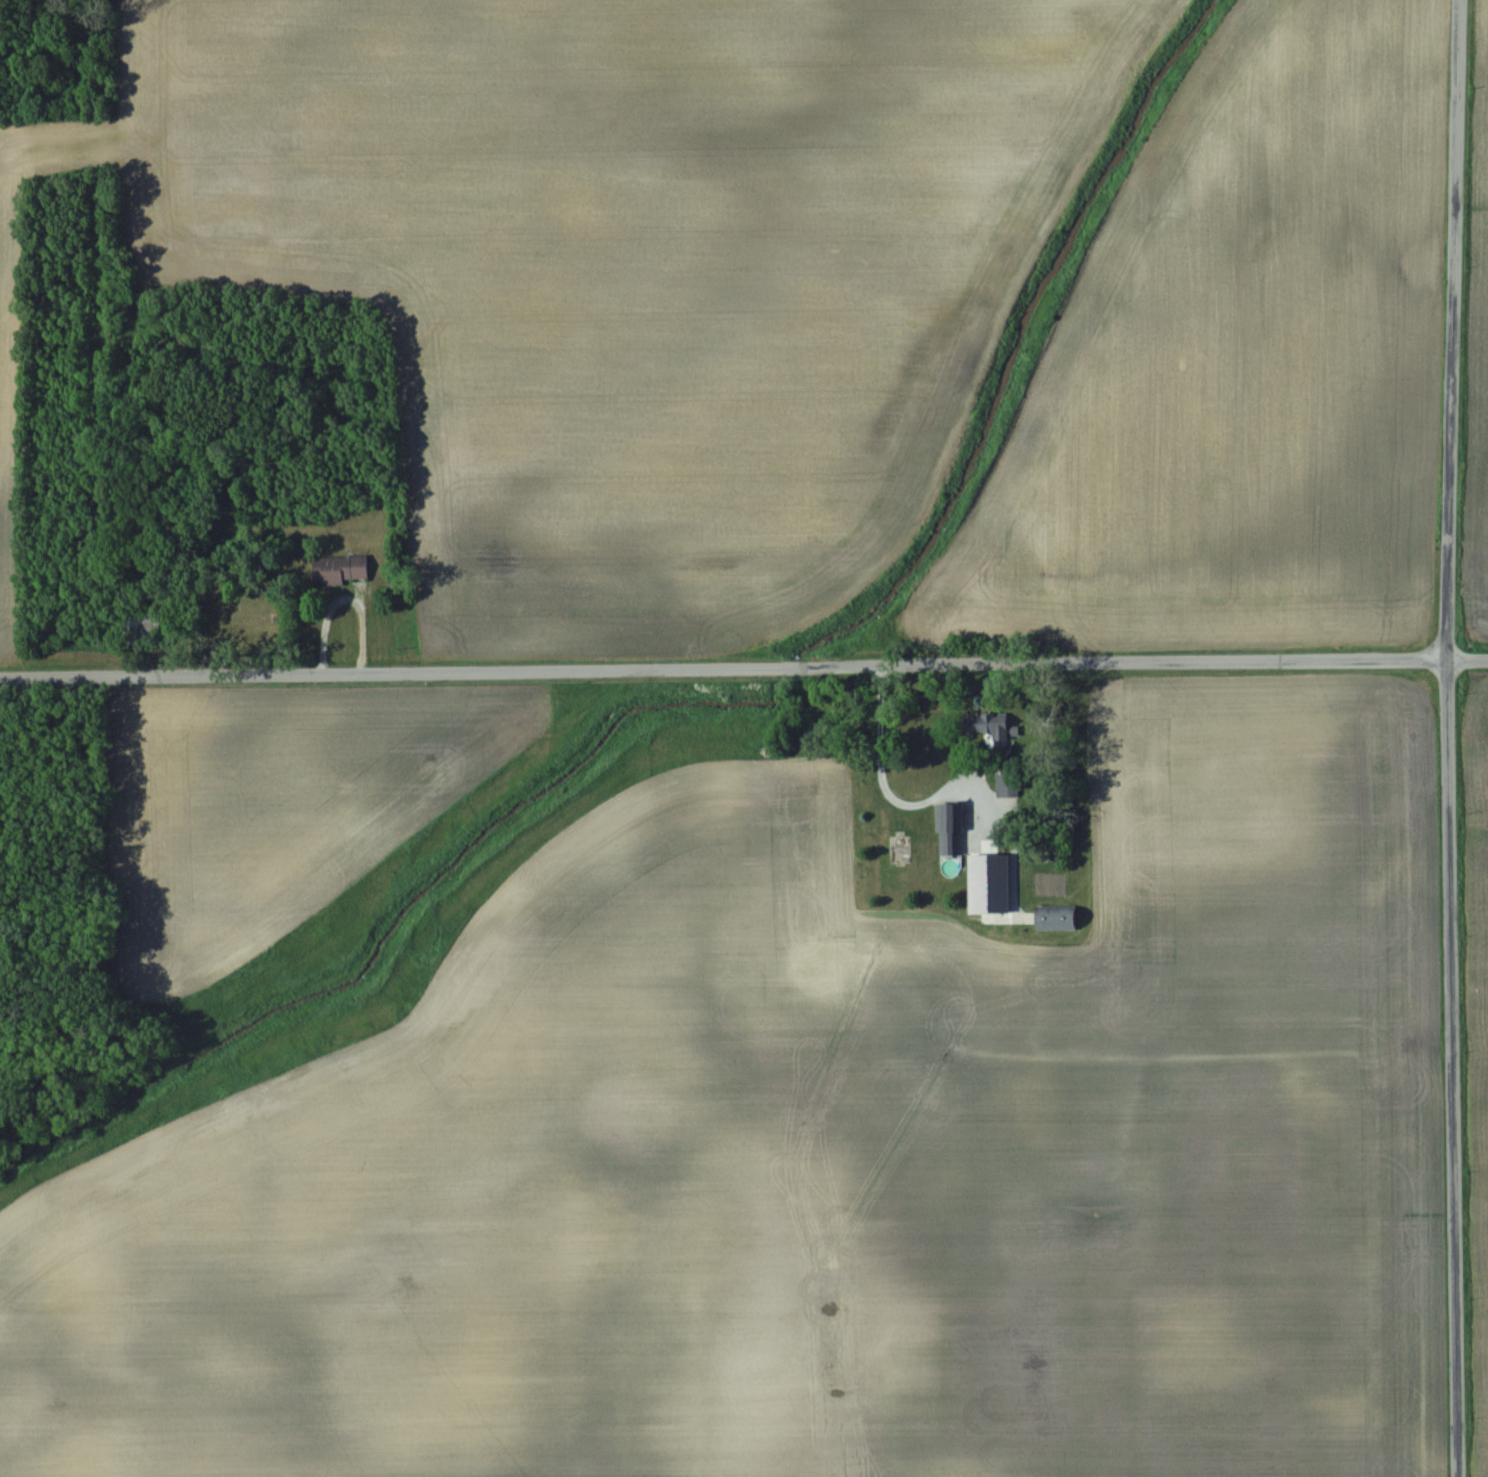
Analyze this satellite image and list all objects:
road: (1443, 326)
building: (336, 569)
building: (139, 629)
road: (743, 657)
building: (986, 726)
road: (920, 797)
building: (944, 829)
building: (1049, 917)
road: (1442, 1065)

